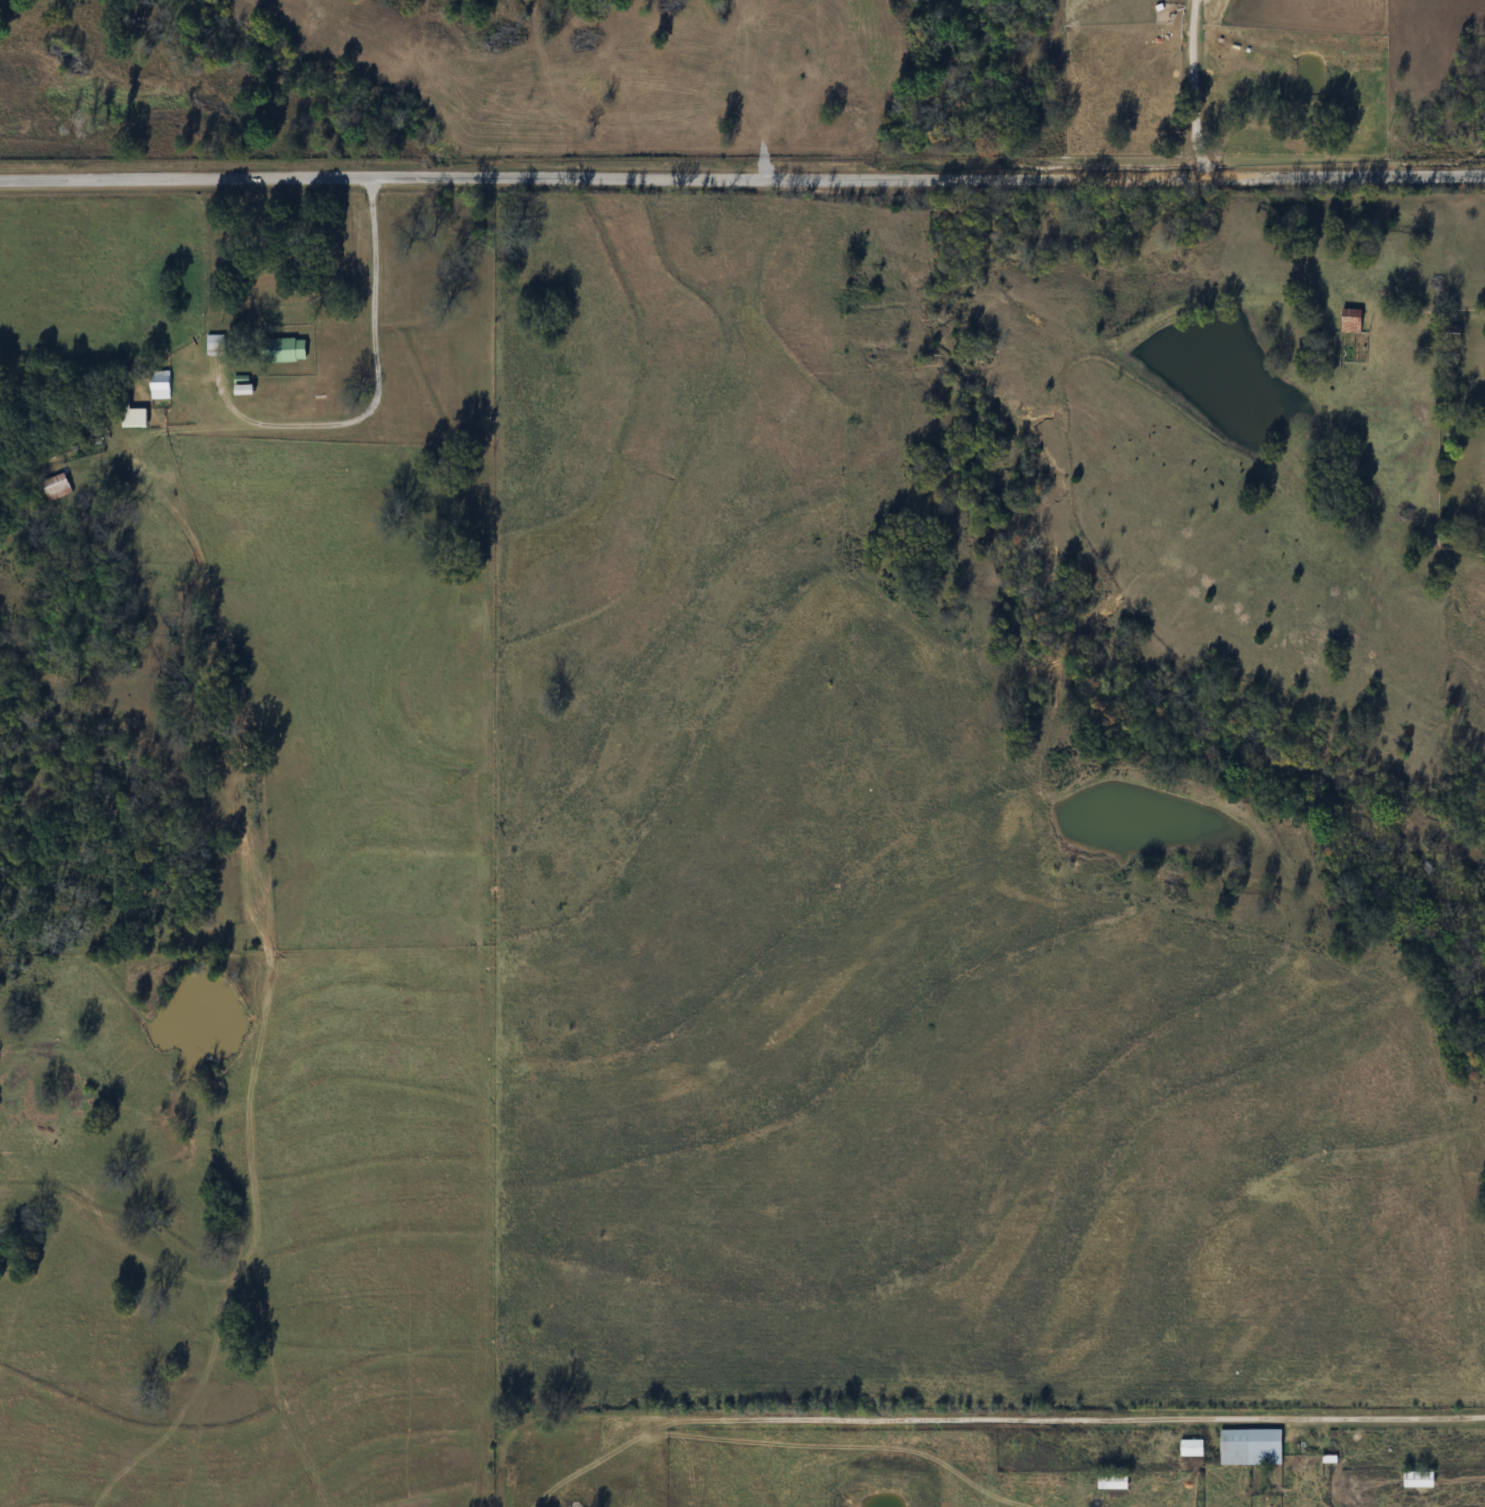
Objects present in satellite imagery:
road: (1202, 7)
road: (1198, 94)
road: (742, 183)
building: (1351, 321)
building: (215, 345)
building: (283, 350)
road: (380, 384)
building: (160, 385)
building: (132, 414)
building: (57, 486)
road: (960, 1421)
building: (1192, 1447)
building: (1251, 1447)
building: (1418, 1479)
building: (1112, 1480)

